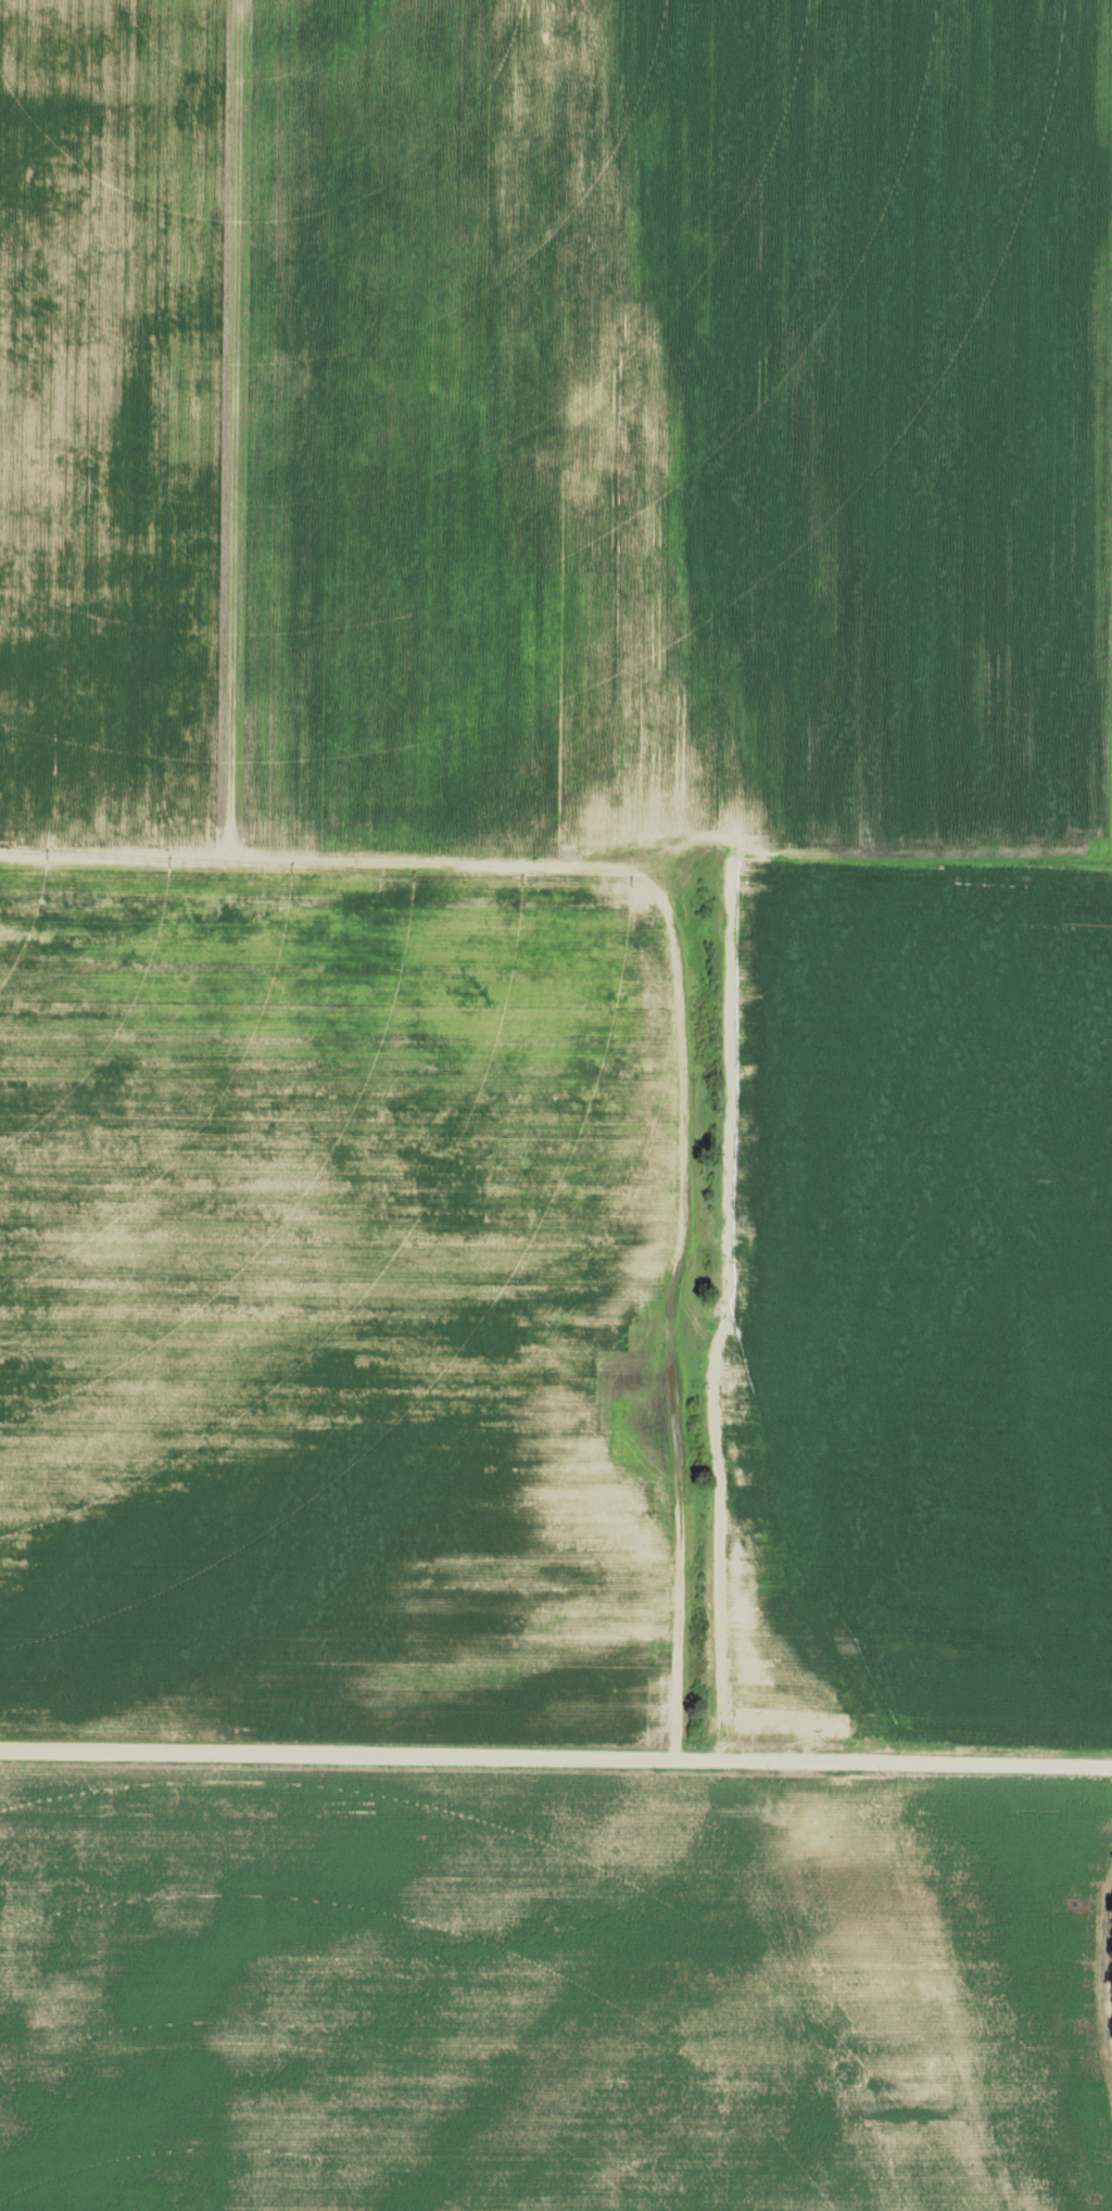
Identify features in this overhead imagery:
road: (779, 1556)
road: (556, 1755)
building: (767, 1801)

